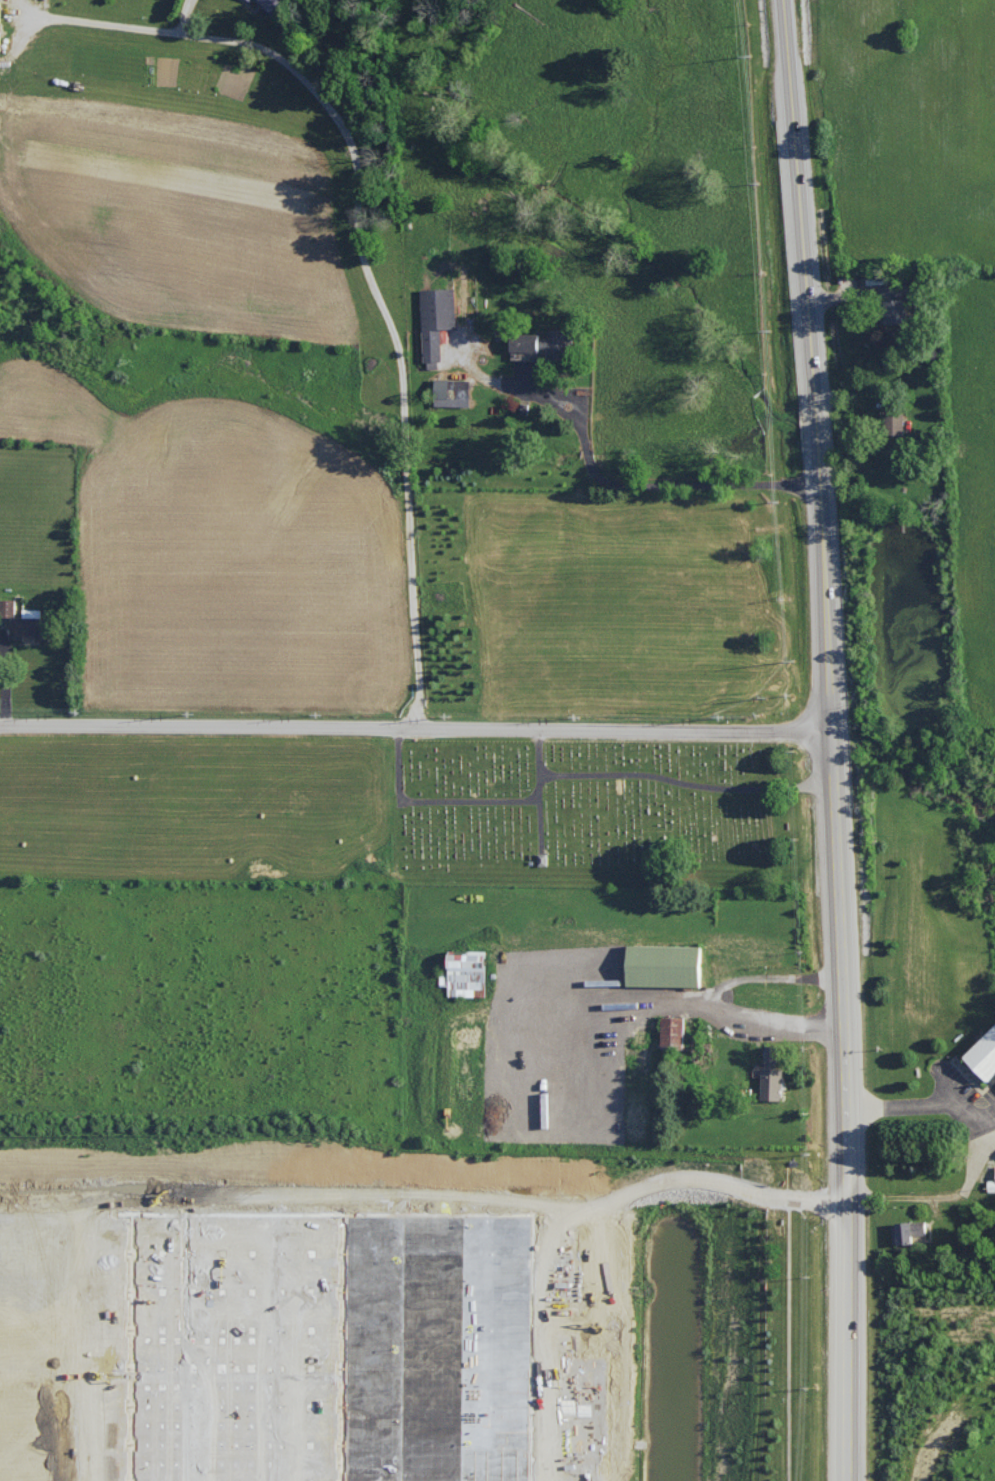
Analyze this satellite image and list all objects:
building: (248, 0)
building: (266, 3)
road: (365, 266)
building: (891, 303)
building: (435, 319)
building: (522, 342)
building: (554, 343)
building: (451, 392)
building: (893, 425)
road: (612, 478)
building: (22, 623)
road: (416, 727)
road: (833, 739)
park: (602, 810)
building: (661, 963)
building: (464, 972)
road: (715, 1007)
building: (671, 1031)
building: (983, 1054)
building: (770, 1075)
road: (987, 1121)
road: (979, 1149)
building: (991, 1183)
building: (908, 1229)
road: (1, 1359)
road: (293, 1473)

